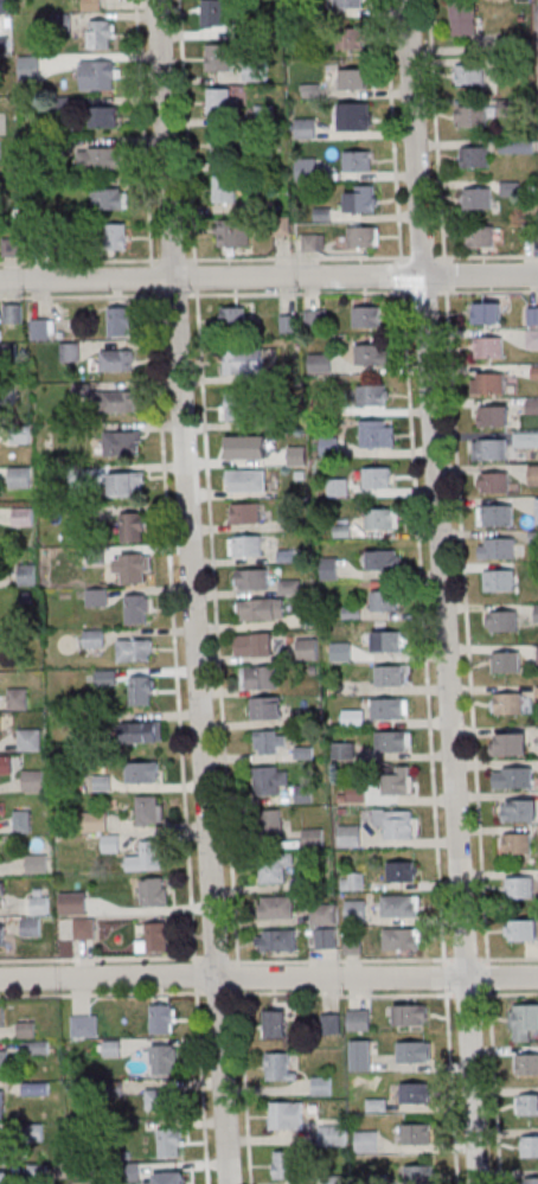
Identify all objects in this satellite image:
building: (94, 4)
building: (348, 4)
building: (2, 6)
building: (213, 12)
building: (463, 18)
building: (101, 33)
building: (353, 38)
building: (217, 57)
park: (537, 66)
building: (27, 68)
building: (98, 75)
building: (470, 75)
building: (352, 78)
building: (222, 102)
building: (103, 116)
building: (353, 116)
building: (472, 116)
building: (306, 127)
building: (515, 146)
building: (224, 149)
building: (475, 156)
building: (103, 158)
building: (359, 160)
building: (512, 187)
building: (224, 190)
building: (478, 197)
building: (109, 198)
building: (361, 198)
building: (232, 235)
building: (116, 236)
building: (364, 236)
building: (481, 236)
building: (313, 242)
building: (9, 247)
road: (269, 257)
road: (268, 276)
road: (268, 293)
building: (12, 313)
building: (486, 313)
building: (532, 315)
building: (367, 316)
building: (316, 318)
building: (235, 319)
building: (122, 321)
building: (289, 322)
building: (43, 328)
building: (532, 339)
building: (488, 347)
building: (70, 352)
building: (372, 354)
building: (117, 359)
building: (244, 361)
building: (320, 363)
building: (534, 371)
building: (488, 383)
building: (373, 395)
building: (117, 401)
building: (232, 407)
building: (532, 407)
building: (493, 415)
building: (378, 433)
building: (525, 439)
building: (122, 442)
building: (329, 446)
building: (245, 449)
building: (489, 449)
building: (533, 475)
building: (19, 476)
building: (377, 478)
building: (245, 481)
building: (494, 481)
building: (127, 484)
building: (338, 487)
building: (537, 511)
building: (244, 513)
building: (495, 514)
building: (383, 518)
building: (132, 526)
building: (245, 545)
building: (497, 548)
building: (384, 559)
building: (329, 567)
building: (133, 568)
building: (26, 575)
building: (252, 580)
building: (499, 581)
building: (290, 587)
road: (194, 591)
road: (214, 591)
road: (422, 591)
road: (444, 591)
road: (465, 591)
building: (97, 596)
building: (384, 600)
building: (137, 608)
building: (261, 610)
building: (502, 621)
building: (94, 638)
building: (388, 641)
building: (252, 645)
building: (307, 648)
building: (134, 649)
building: (341, 651)
building: (506, 661)
building: (391, 676)
building: (105, 678)
building: (260, 678)
building: (141, 690)
building: (17, 698)
building: (506, 703)
building: (265, 708)
building: (389, 708)
building: (353, 717)
building: (145, 731)
building: (30, 740)
building: (393, 741)
building: (269, 742)
building: (508, 743)
building: (342, 750)
building: (5, 764)
building: (142, 772)
building: (512, 777)
building: (32, 780)
building: (270, 780)
building: (397, 780)
building: (149, 809)
building: (519, 809)
building: (21, 821)
building: (94, 821)
building: (393, 823)
building: (270, 825)
building: (348, 837)
building: (514, 844)
building: (147, 857)
building: (37, 863)
building: (274, 869)
building: (402, 871)
building: (352, 883)
building: (520, 888)
building: (154, 892)
building: (2, 895)
building: (72, 904)
building: (37, 905)
building: (401, 907)
building: (276, 909)
building: (356, 910)
building: (324, 915)
building: (31, 927)
building: (84, 930)
building: (521, 930)
building: (2, 934)
building: (155, 937)
building: (402, 939)
building: (326, 940)
building: (278, 941)
road: (268, 959)
road: (268, 977)
road: (117, 993)
road: (386, 994)
building: (411, 1015)
building: (2, 1016)
building: (162, 1018)
building: (359, 1019)
building: (523, 1022)
building: (274, 1023)
building: (333, 1023)
building: (84, 1025)
building: (34, 1048)
building: (415, 1051)
building: (364, 1055)
building: (165, 1058)
building: (4, 1060)
building: (526, 1064)
building: (280, 1065)
building: (321, 1086)
building: (36, 1088)
building: (416, 1093)
building: (159, 1099)
building: (2, 1103)
building: (527, 1103)
building: (286, 1115)
building: (416, 1133)
building: (333, 1134)
building: (169, 1141)
building: (367, 1141)
building: (4, 1145)
building: (530, 1146)
building: (286, 1164)
building: (419, 1173)
building: (5, 1177)
building: (173, 1178)
building: (334, 1179)
building: (531, 1179)

